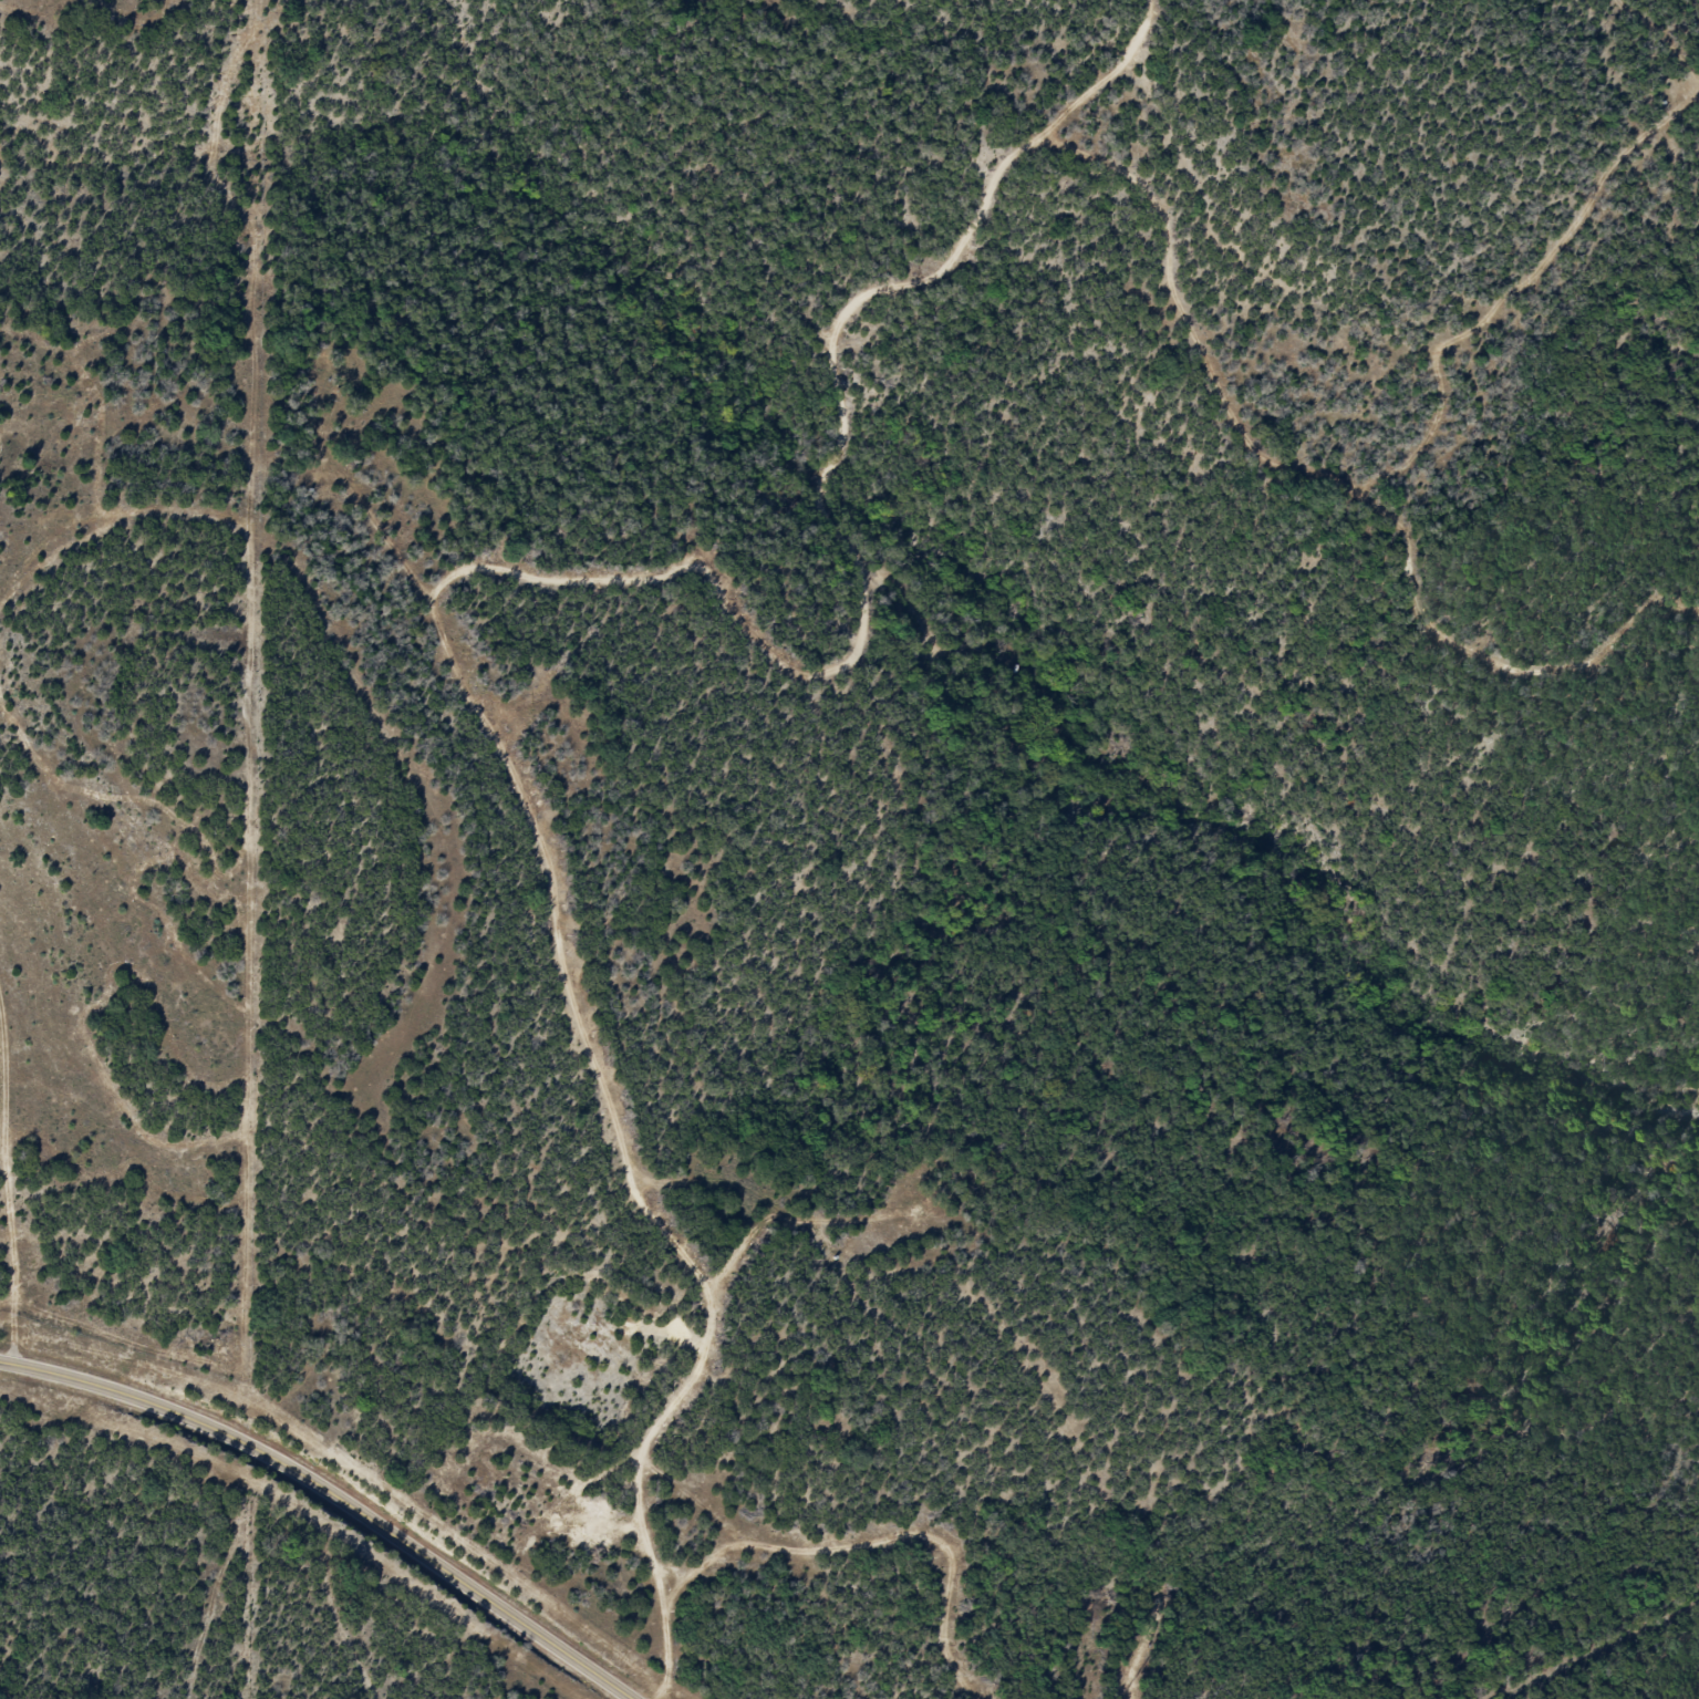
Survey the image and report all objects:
park: (123, 838)
road: (334, 1492)

